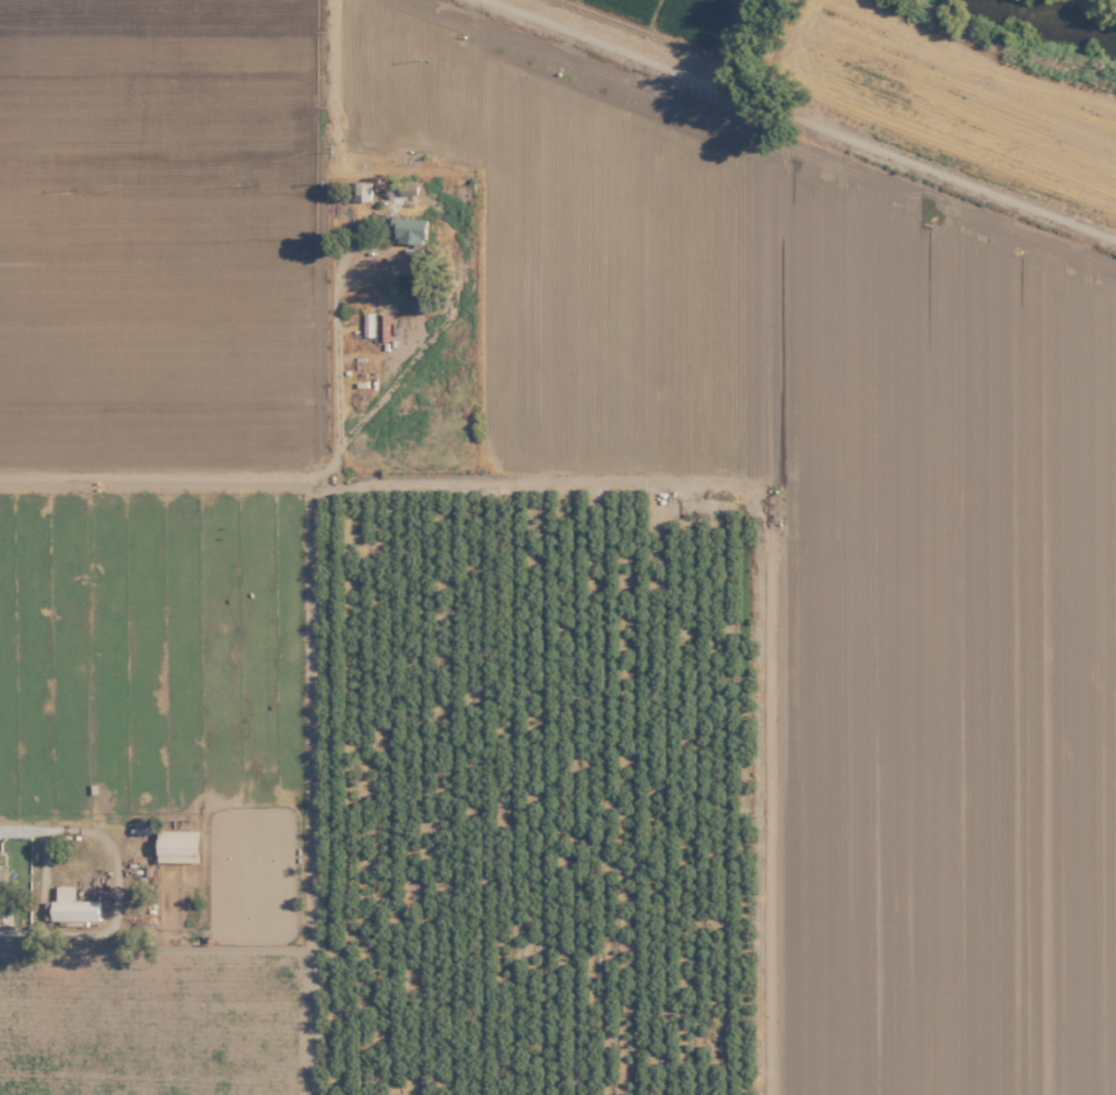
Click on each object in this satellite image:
river: (1084, 8)
road: (806, 117)
building: (364, 191)
building: (409, 229)
building: (368, 325)
crop: (637, 436)
road: (263, 478)
building: (177, 845)
road: (44, 880)
building: (1, 892)
building: (72, 905)

